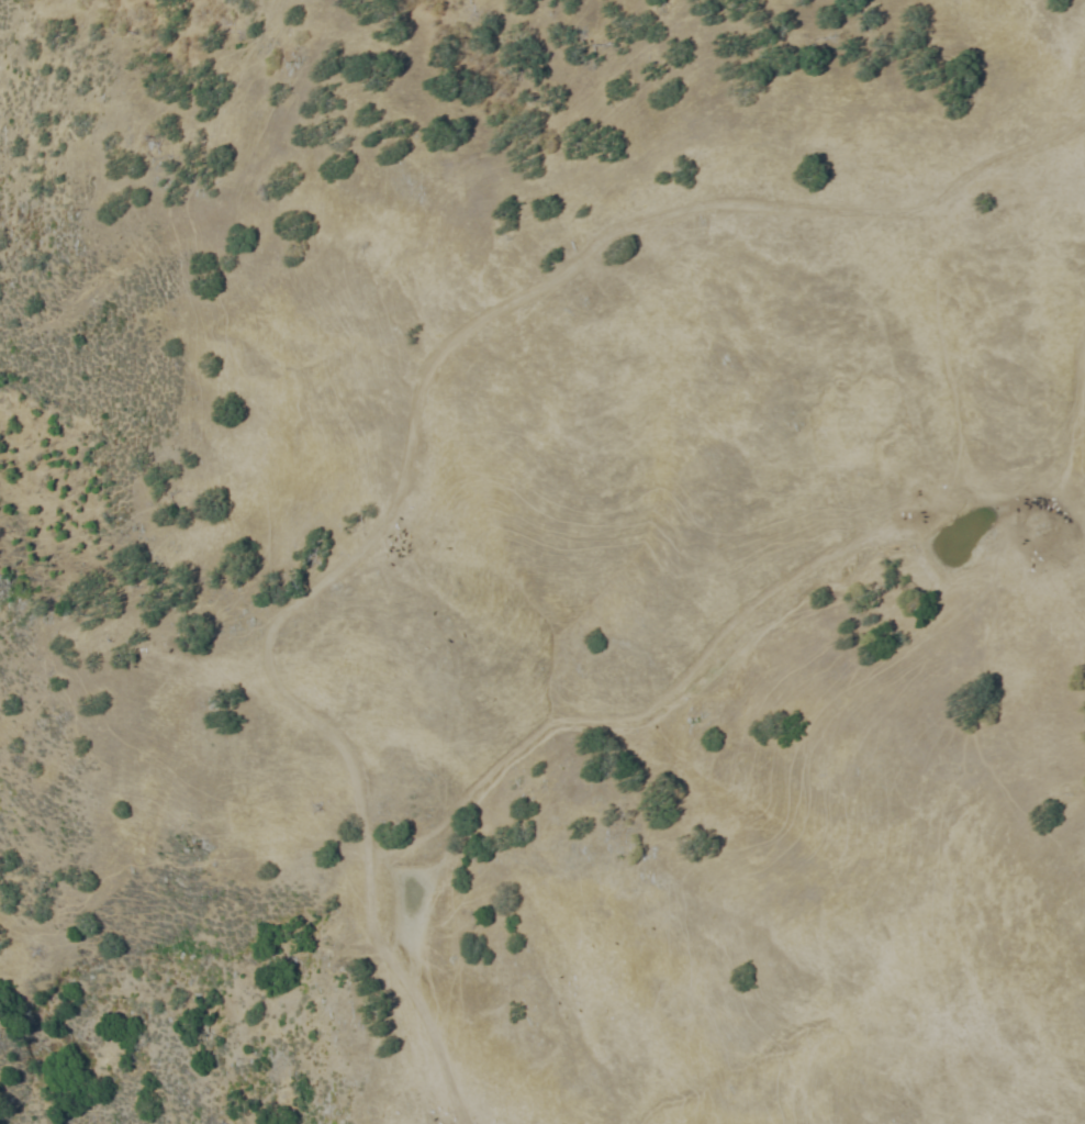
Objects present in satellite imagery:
road: (532, 290)
road: (377, 937)

